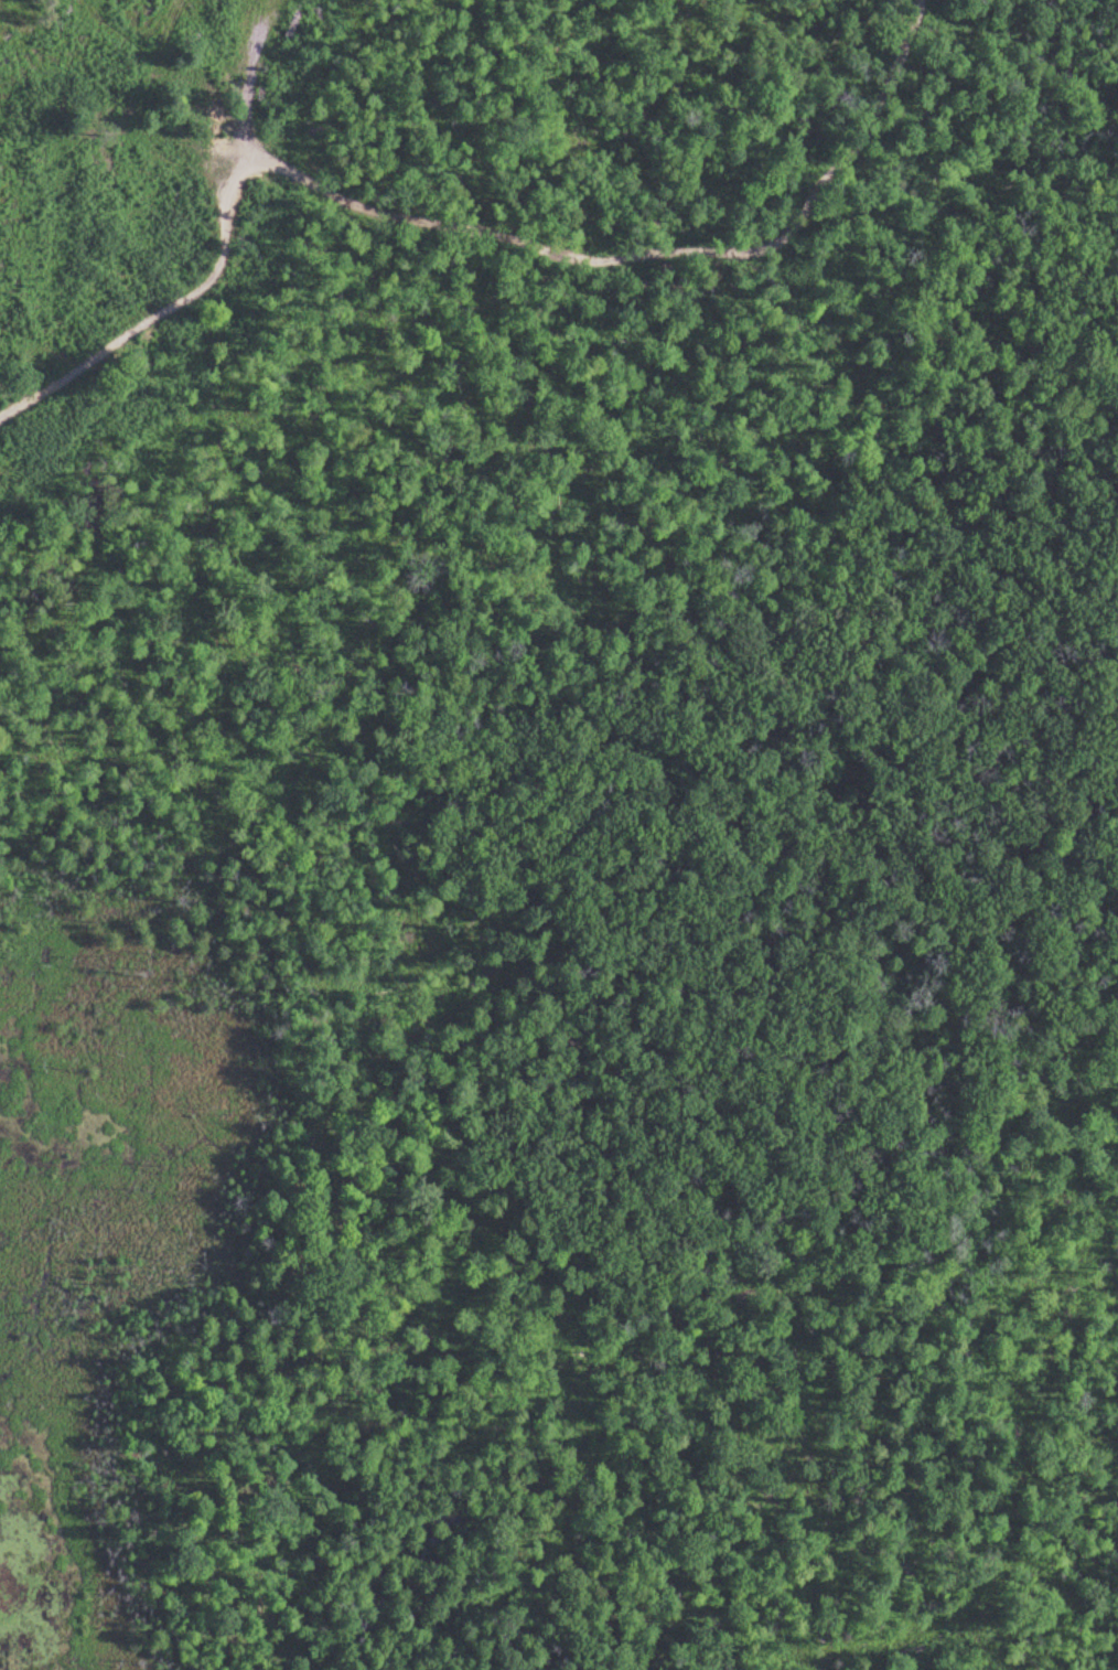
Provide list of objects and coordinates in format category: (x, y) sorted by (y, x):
road: (250, 332)

